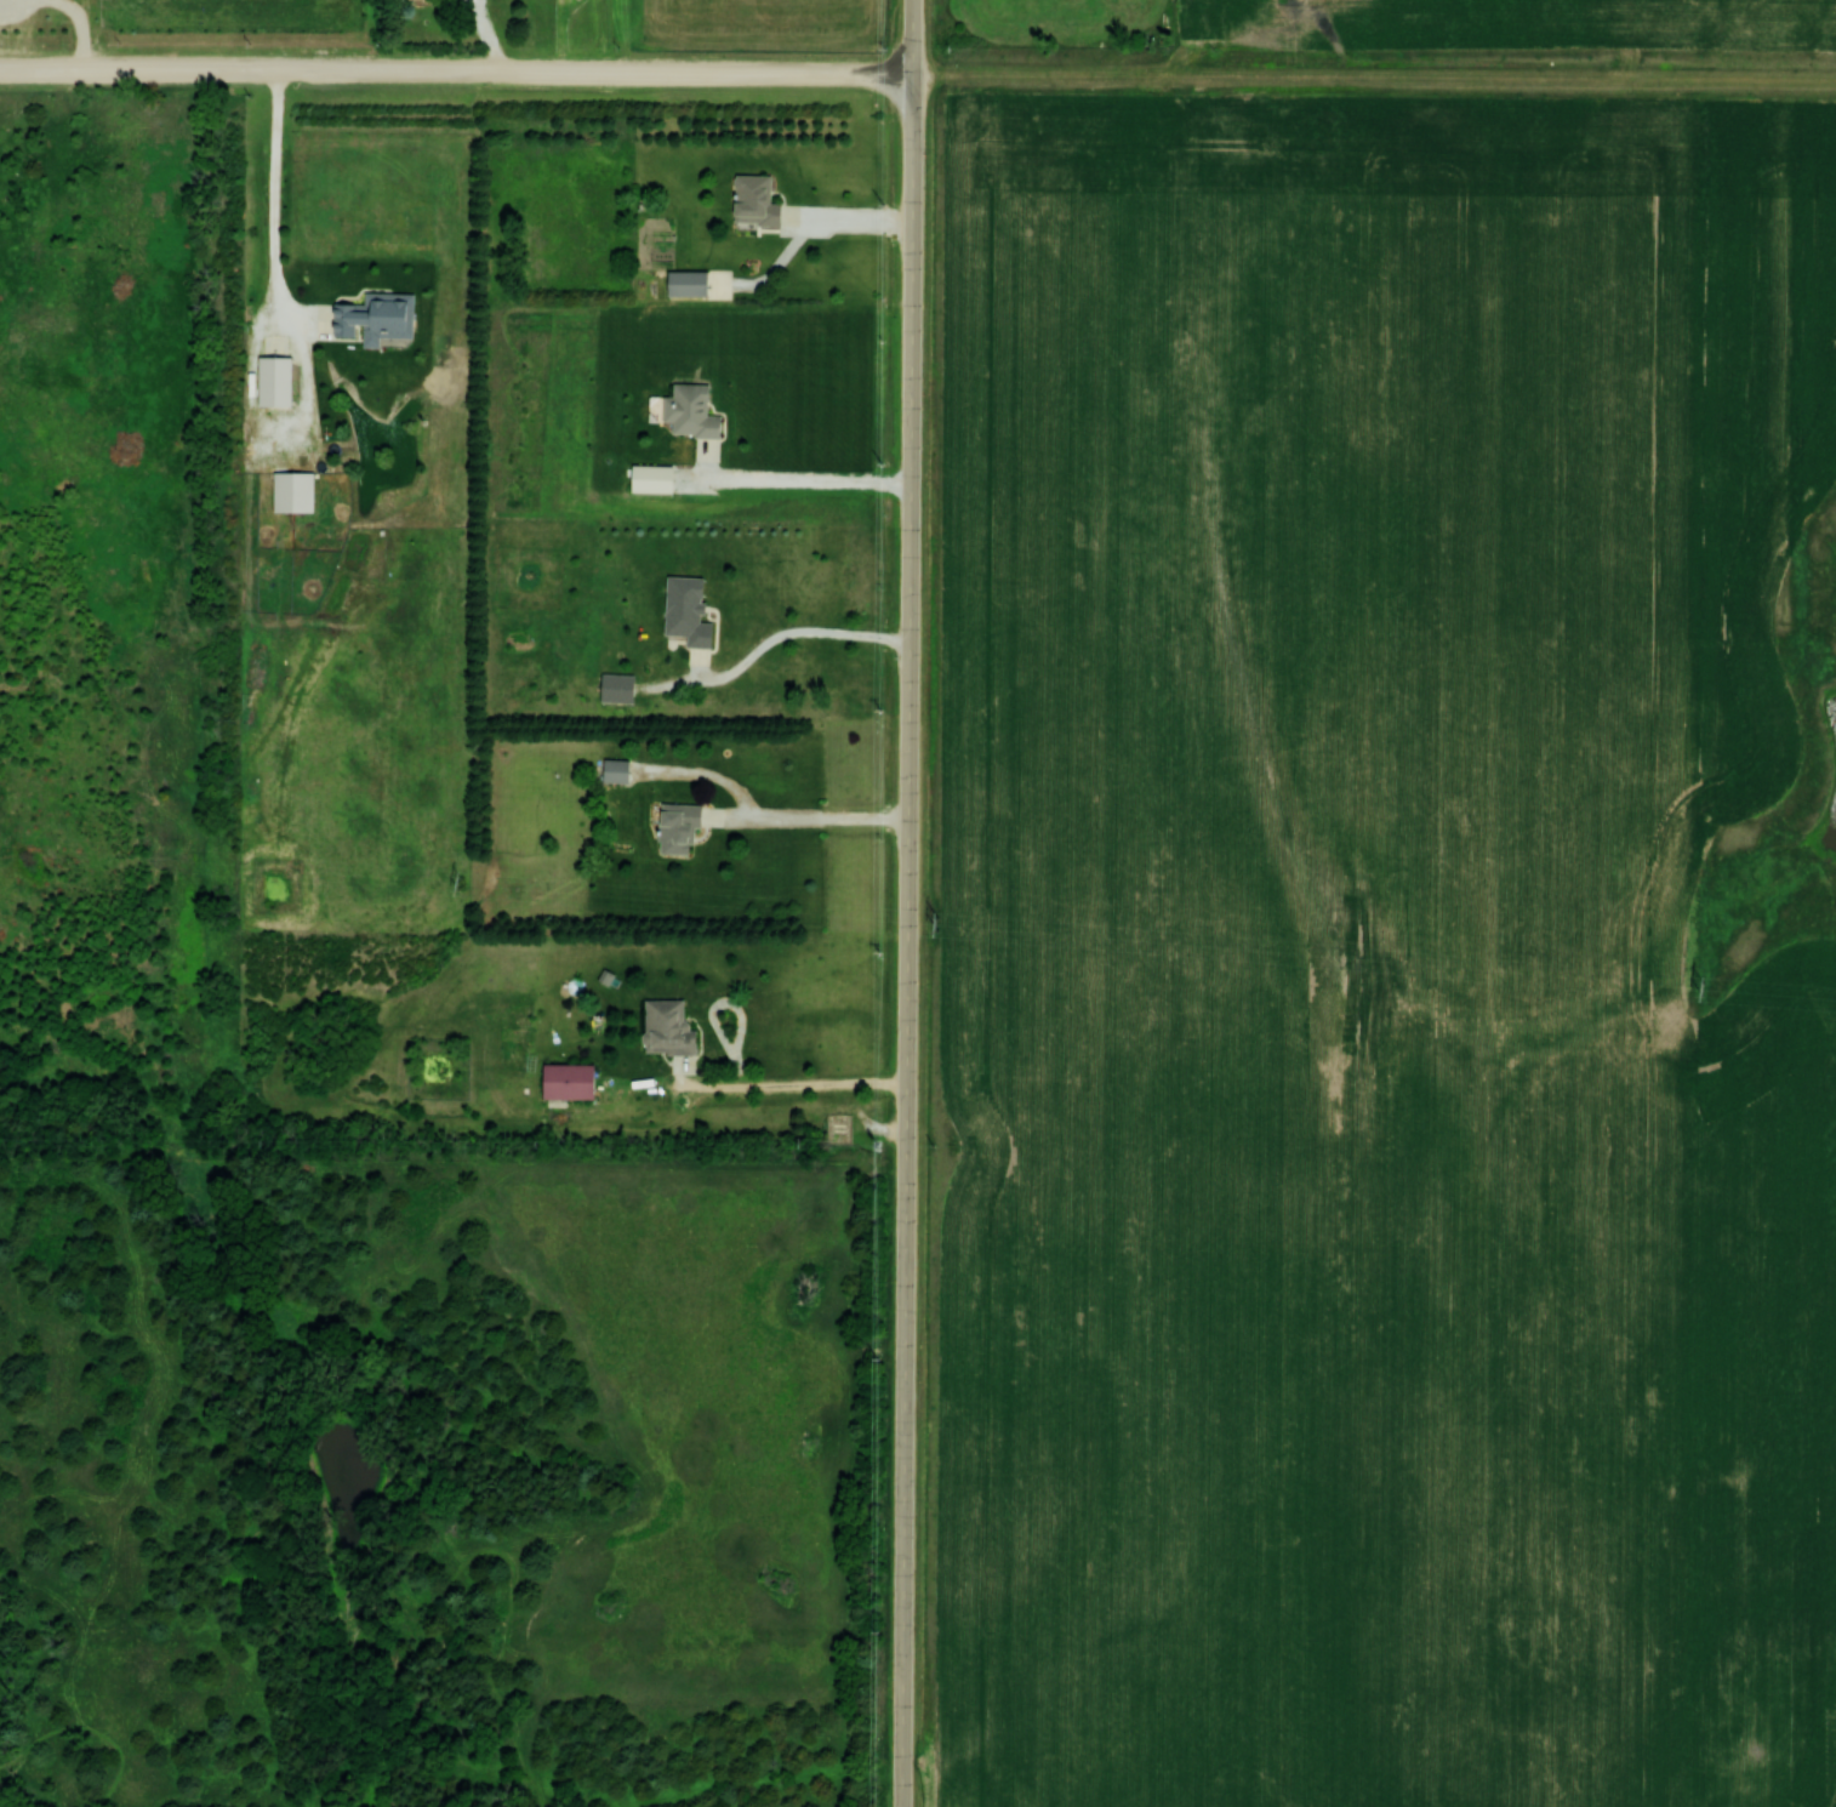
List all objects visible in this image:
road: (113, 35)
road: (457, 73)
building: (763, 198)
building: (694, 281)
building: (382, 315)
building: (284, 380)
building: (699, 410)
building: (300, 490)
building: (696, 609)
road: (823, 640)
building: (622, 770)
road: (820, 819)
building: (686, 826)
power tower: (460, 882)
road: (910, 902)
power tower: (937, 923)
power tower: (1705, 987)
building: (674, 1026)
building: (577, 1079)
road: (758, 1084)
building: (6, 1806)

